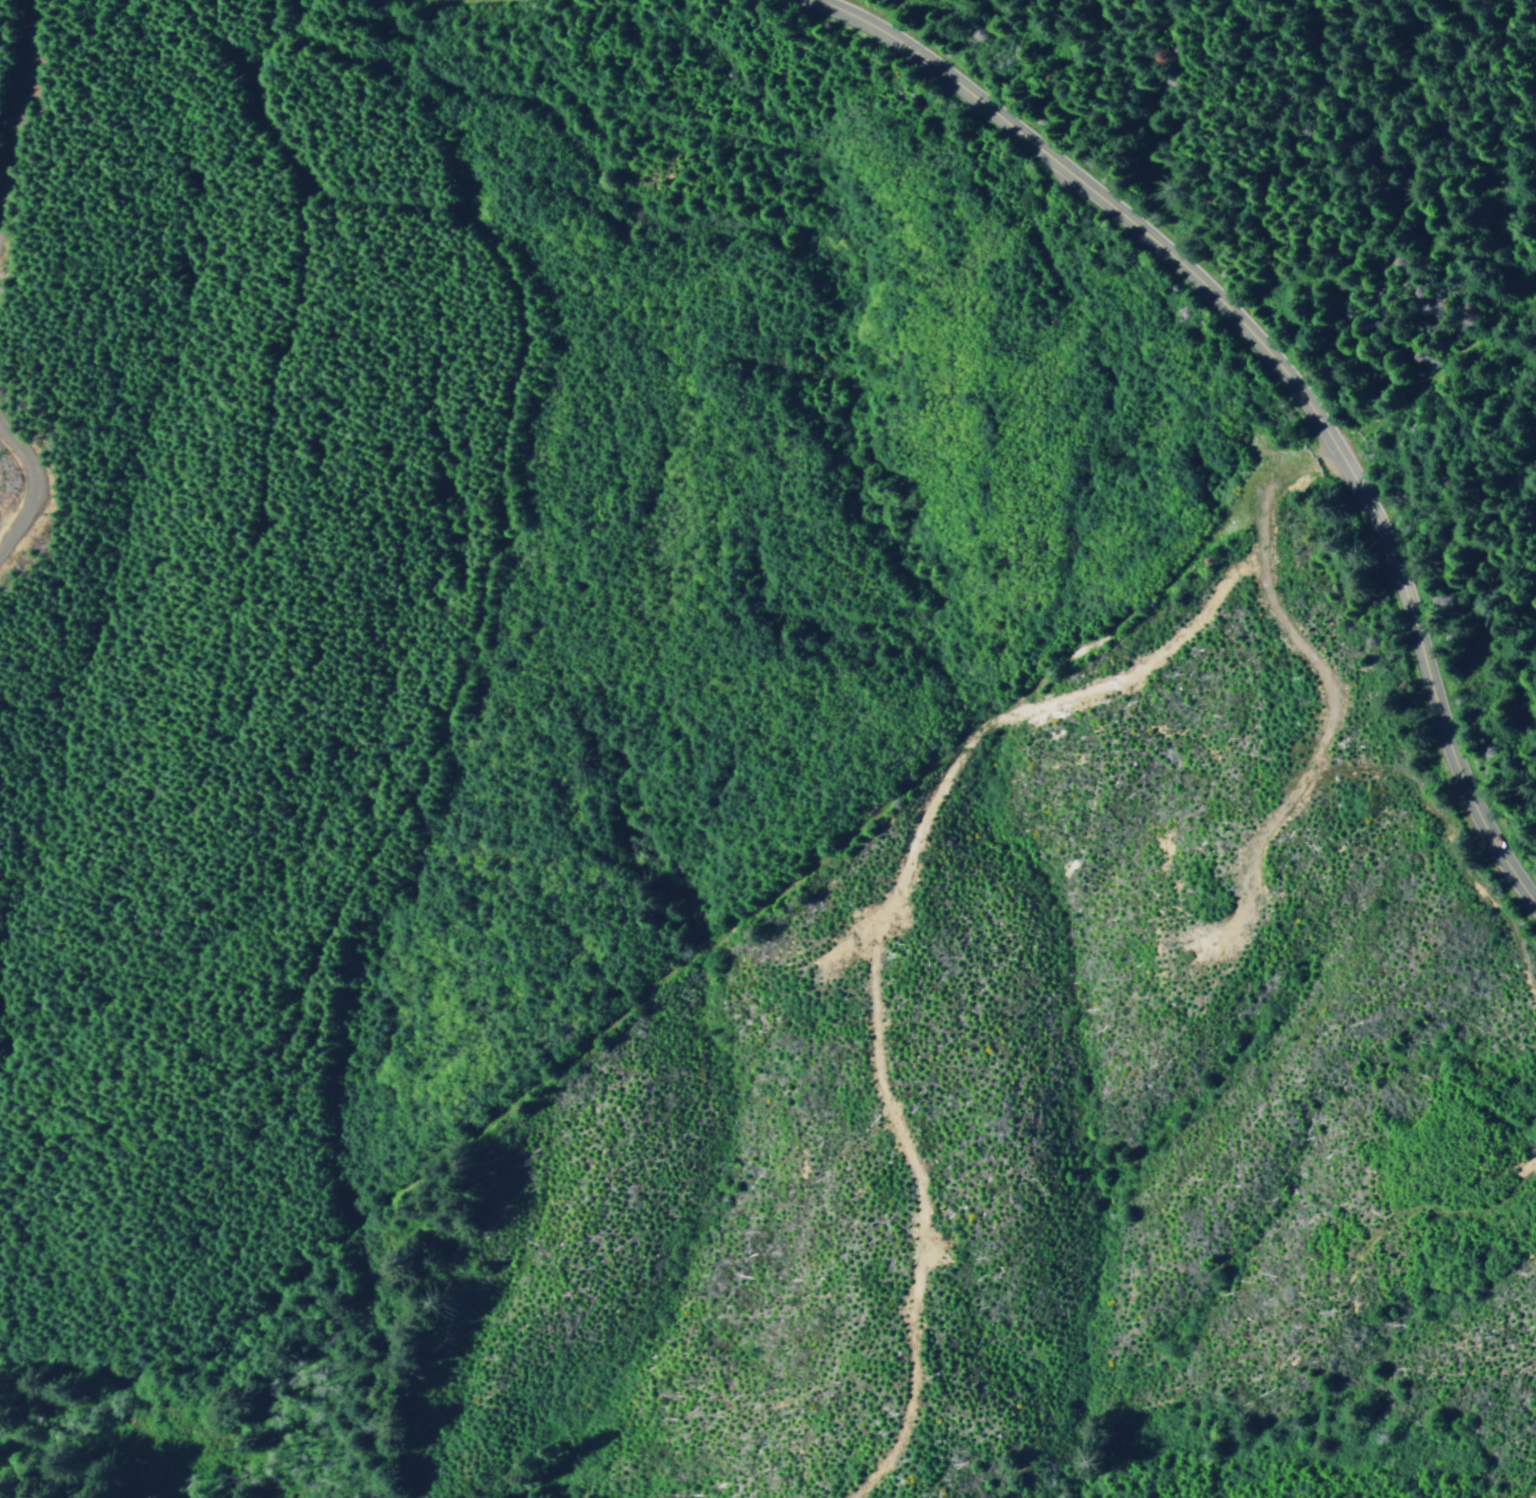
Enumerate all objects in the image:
road: (1279, 379)

